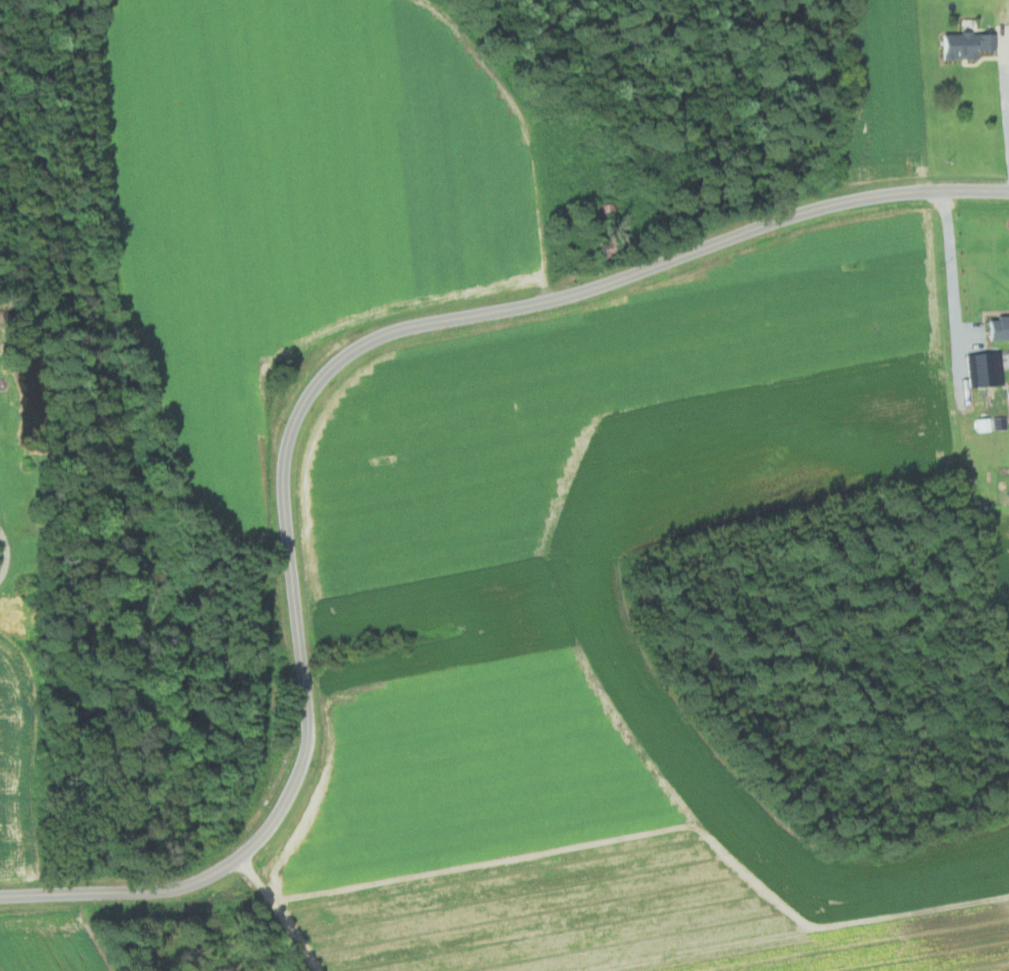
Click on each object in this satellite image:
building: (963, 42)
road: (1004, 76)
road: (952, 283)
building: (997, 327)
building: (982, 369)
road: (293, 382)
park: (14, 499)

